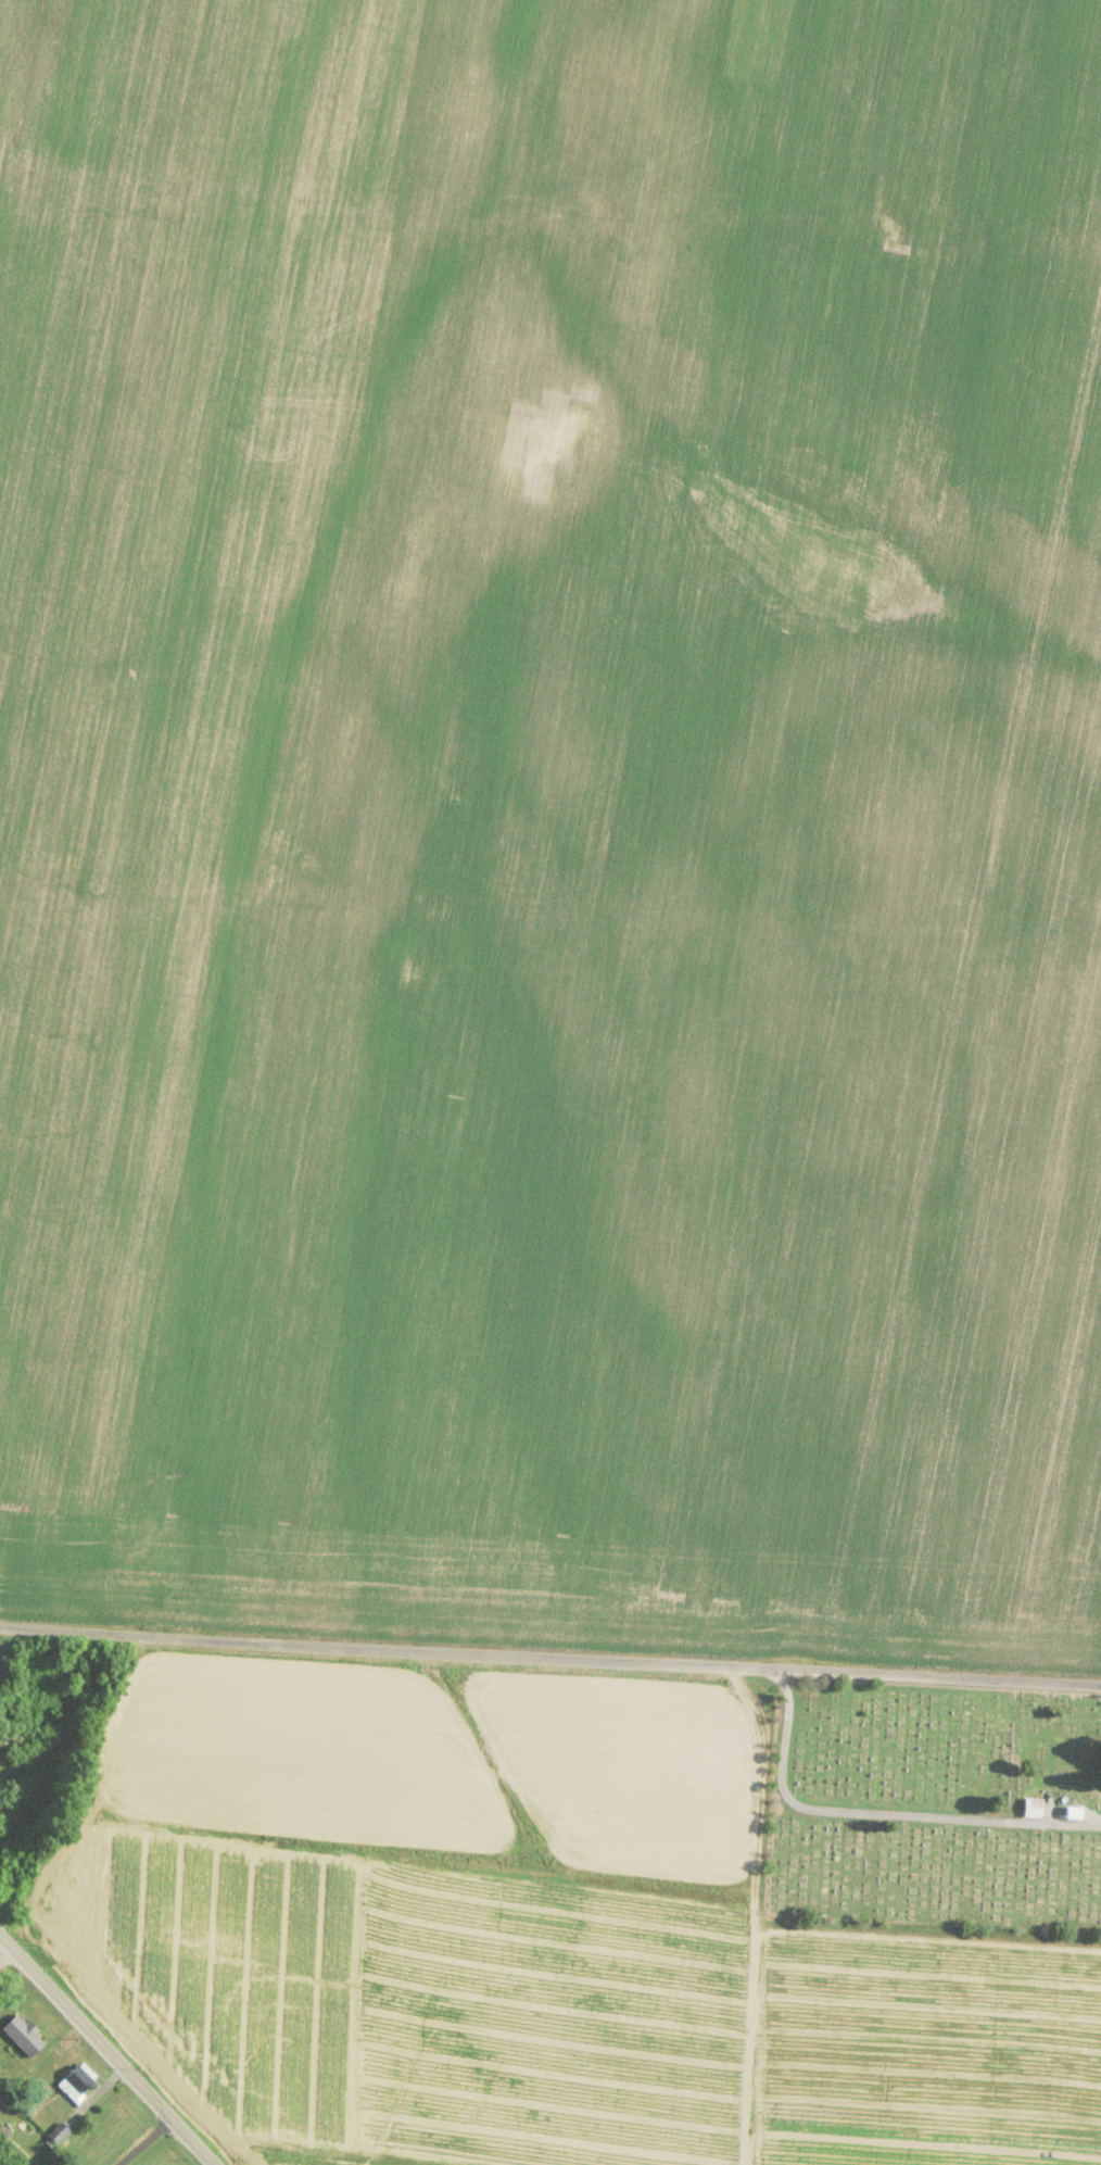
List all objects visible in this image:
crop: (542, 1030)
road: (550, 1659)
building: (9, 1729)
building: (1033, 1805)
road: (873, 1818)
building: (22, 2032)
road: (111, 2047)
building: (75, 2080)
building: (45, 2164)

